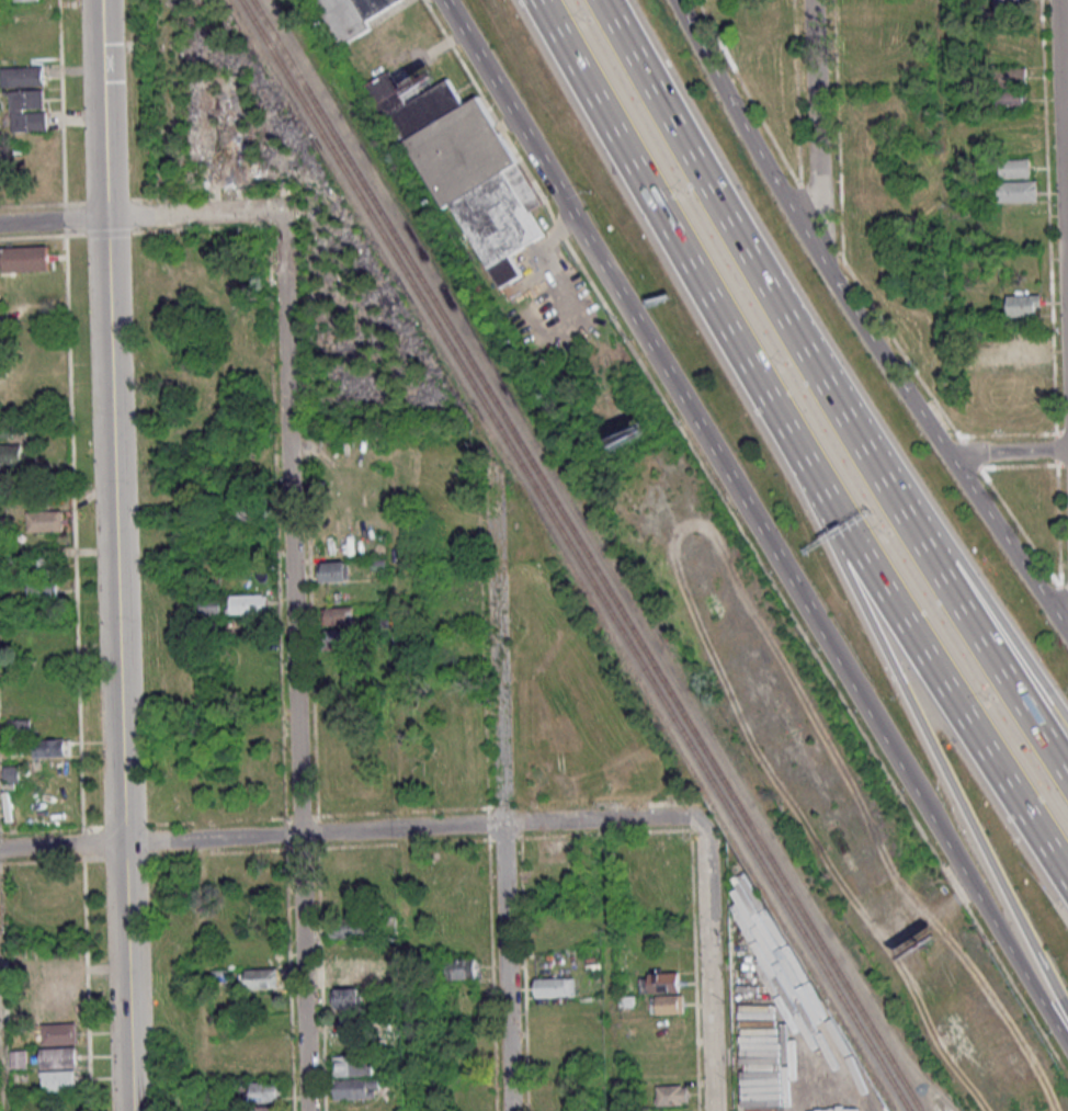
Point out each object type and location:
building: (1005, 1)
building: (351, 15)
building: (771, 19)
building: (861, 37)
building: (863, 61)
building: (22, 76)
building: (1009, 77)
building: (1010, 100)
building: (27, 110)
road: (815, 127)
building: (863, 129)
road: (1063, 159)
building: (1013, 168)
building: (469, 175)
building: (1015, 191)
road: (194, 216)
road: (53, 220)
road: (672, 242)
building: (23, 261)
road: (757, 287)
building: (1023, 304)
road: (861, 324)
building: (1023, 350)
road: (677, 392)
road: (1007, 452)
building: (13, 453)
building: (248, 513)
building: (43, 522)
road: (114, 555)
railway: (576, 555)
railway: (589, 555)
building: (43, 568)
building: (330, 574)
building: (41, 591)
building: (209, 605)
building: (246, 605)
building: (337, 616)
building: (340, 640)
road: (1002, 642)
road: (497, 655)
road: (294, 662)
road: (193, 664)
road: (1001, 670)
road: (941, 681)
building: (20, 725)
building: (49, 747)
road: (933, 752)
road: (398, 771)
building: (11, 773)
road: (602, 819)
road: (310, 834)
road: (60, 846)
park: (649, 880)
road: (988, 915)
building: (386, 927)
building: (350, 930)
road: (604, 965)
road: (504, 967)
road: (705, 967)
building: (462, 968)
building: (346, 975)
building: (260, 980)
building: (663, 982)
building: (54, 986)
building: (554, 987)
building: (351, 996)
building: (666, 1004)
building: (58, 1032)
building: (58, 1056)
road: (2, 1058)
building: (353, 1065)
building: (57, 1080)
building: (265, 1089)
building: (354, 1089)
building: (571, 1095)
building: (671, 1095)
building: (265, 1109)

